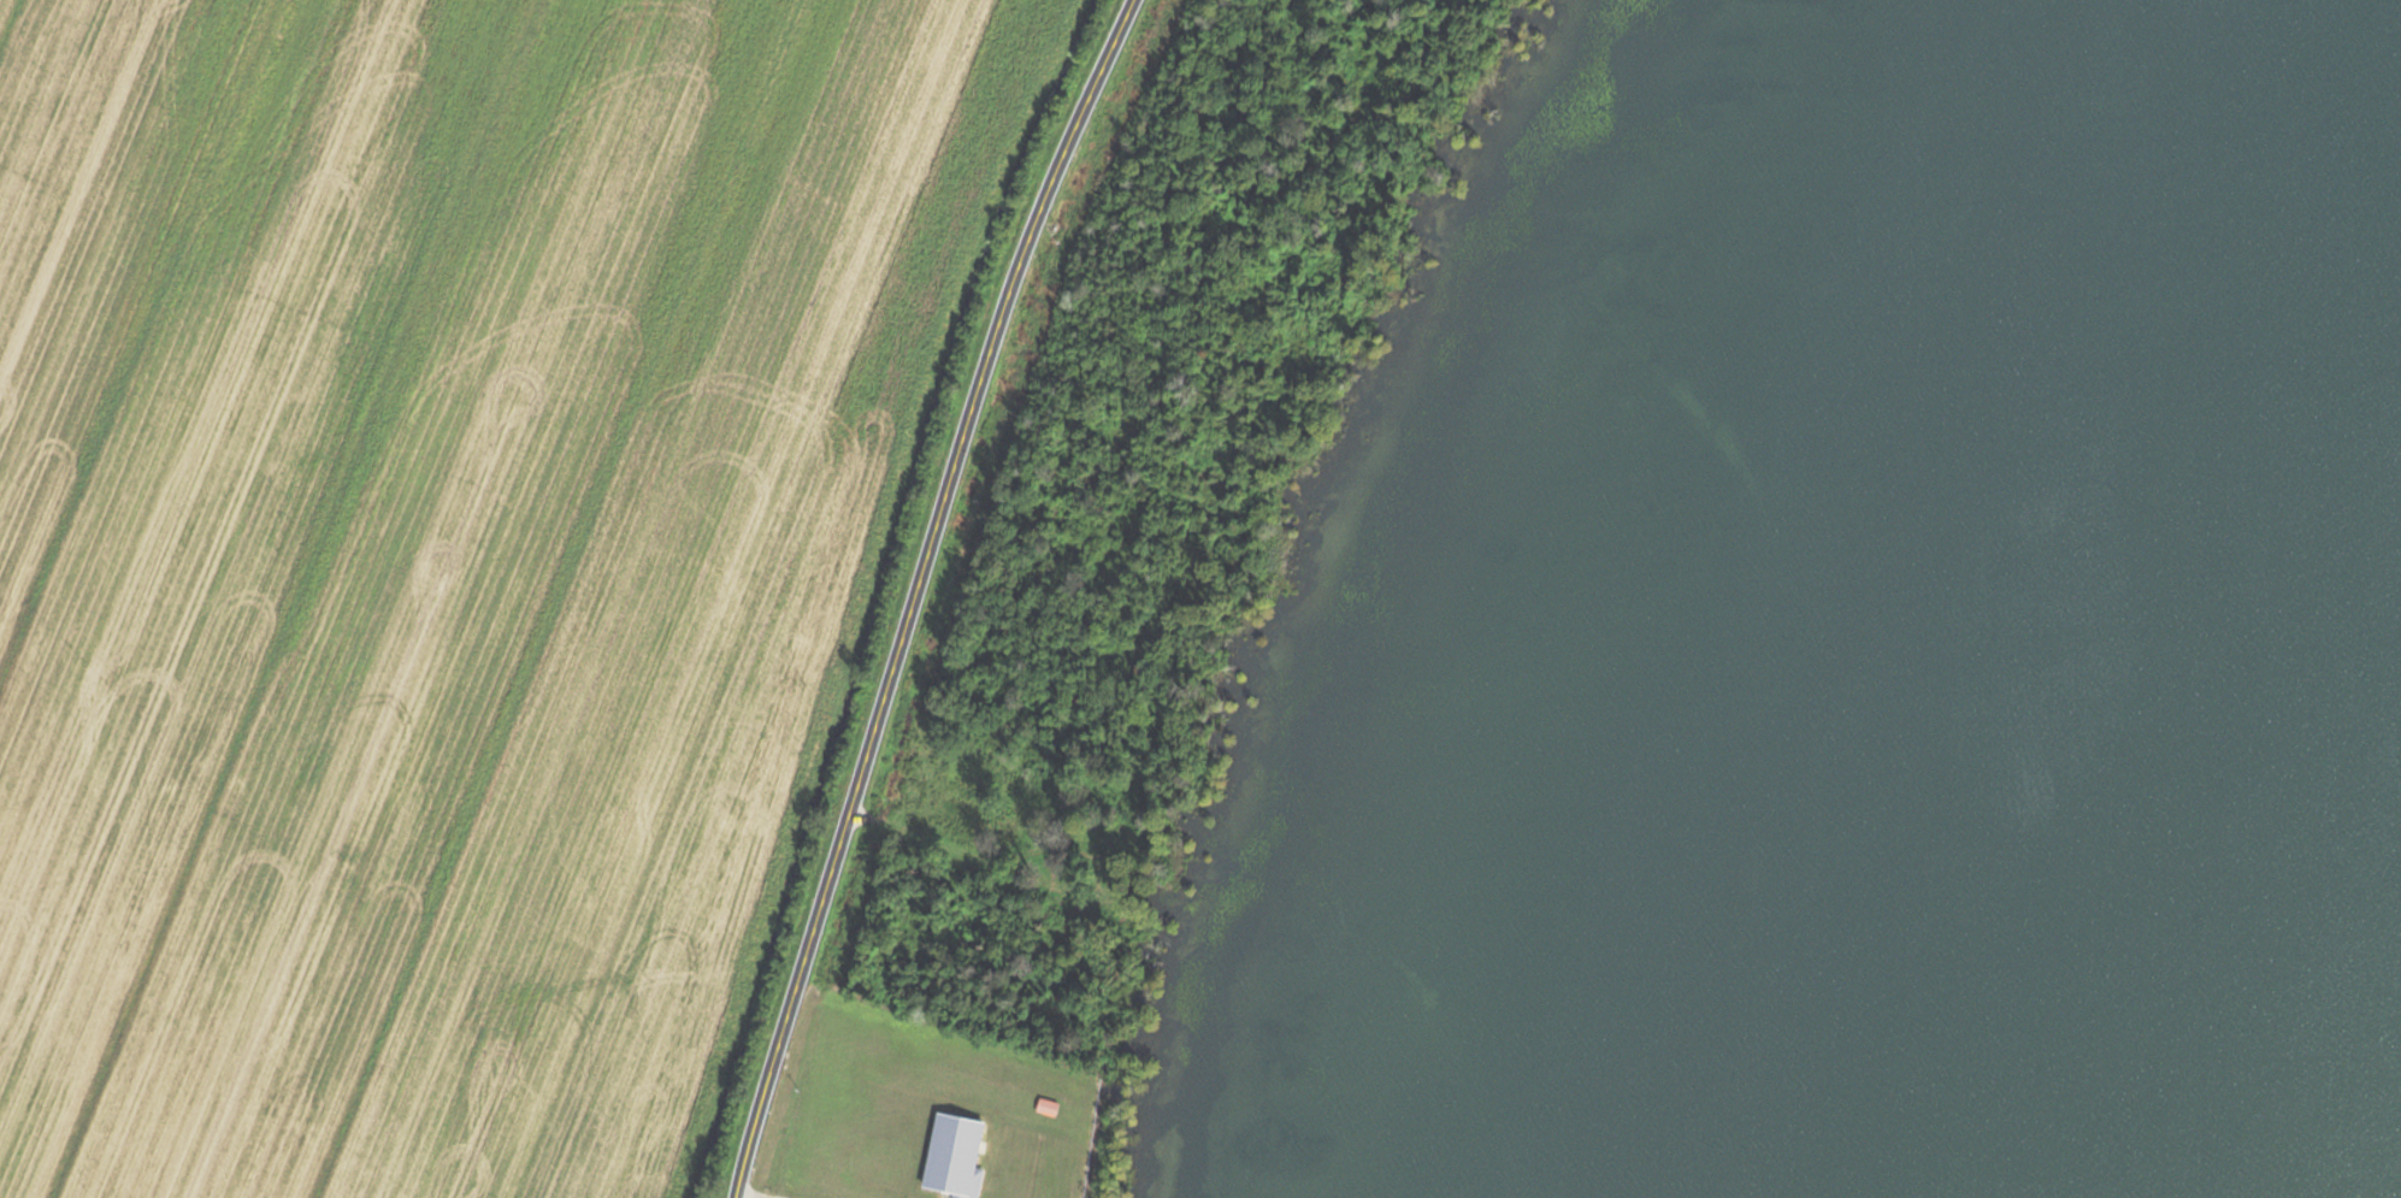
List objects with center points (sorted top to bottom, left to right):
crop: (446, 554)
road: (922, 594)
building: (1043, 1106)
road: (751, 1194)

